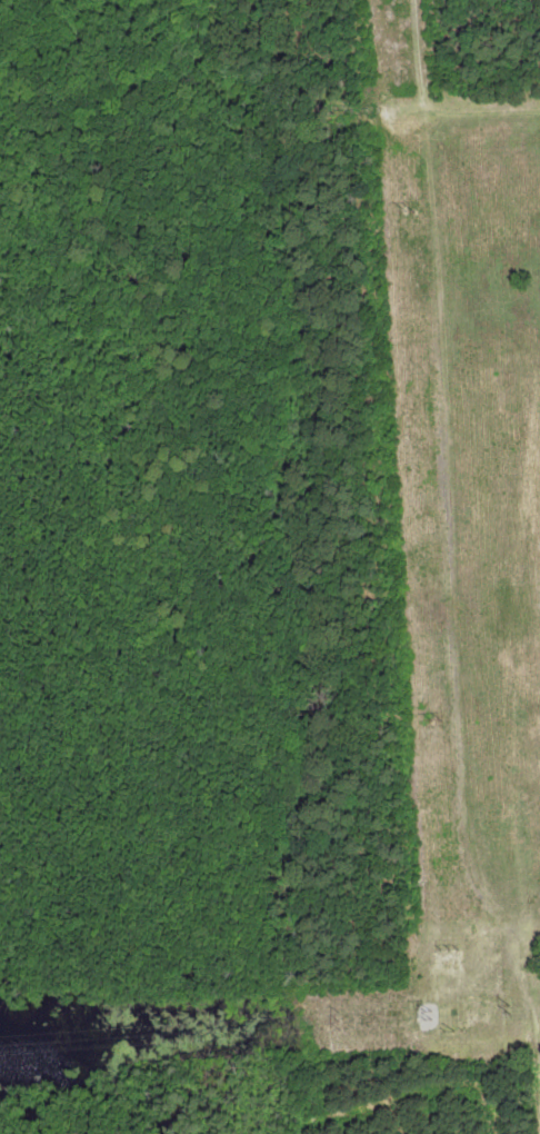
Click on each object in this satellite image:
power tower: (410, 210)
power tower: (437, 720)
building: (490, 945)
power tower: (448, 948)
power tower: (509, 1009)
power tower: (444, 1016)
power tower: (428, 1017)
power tower: (341, 1024)

